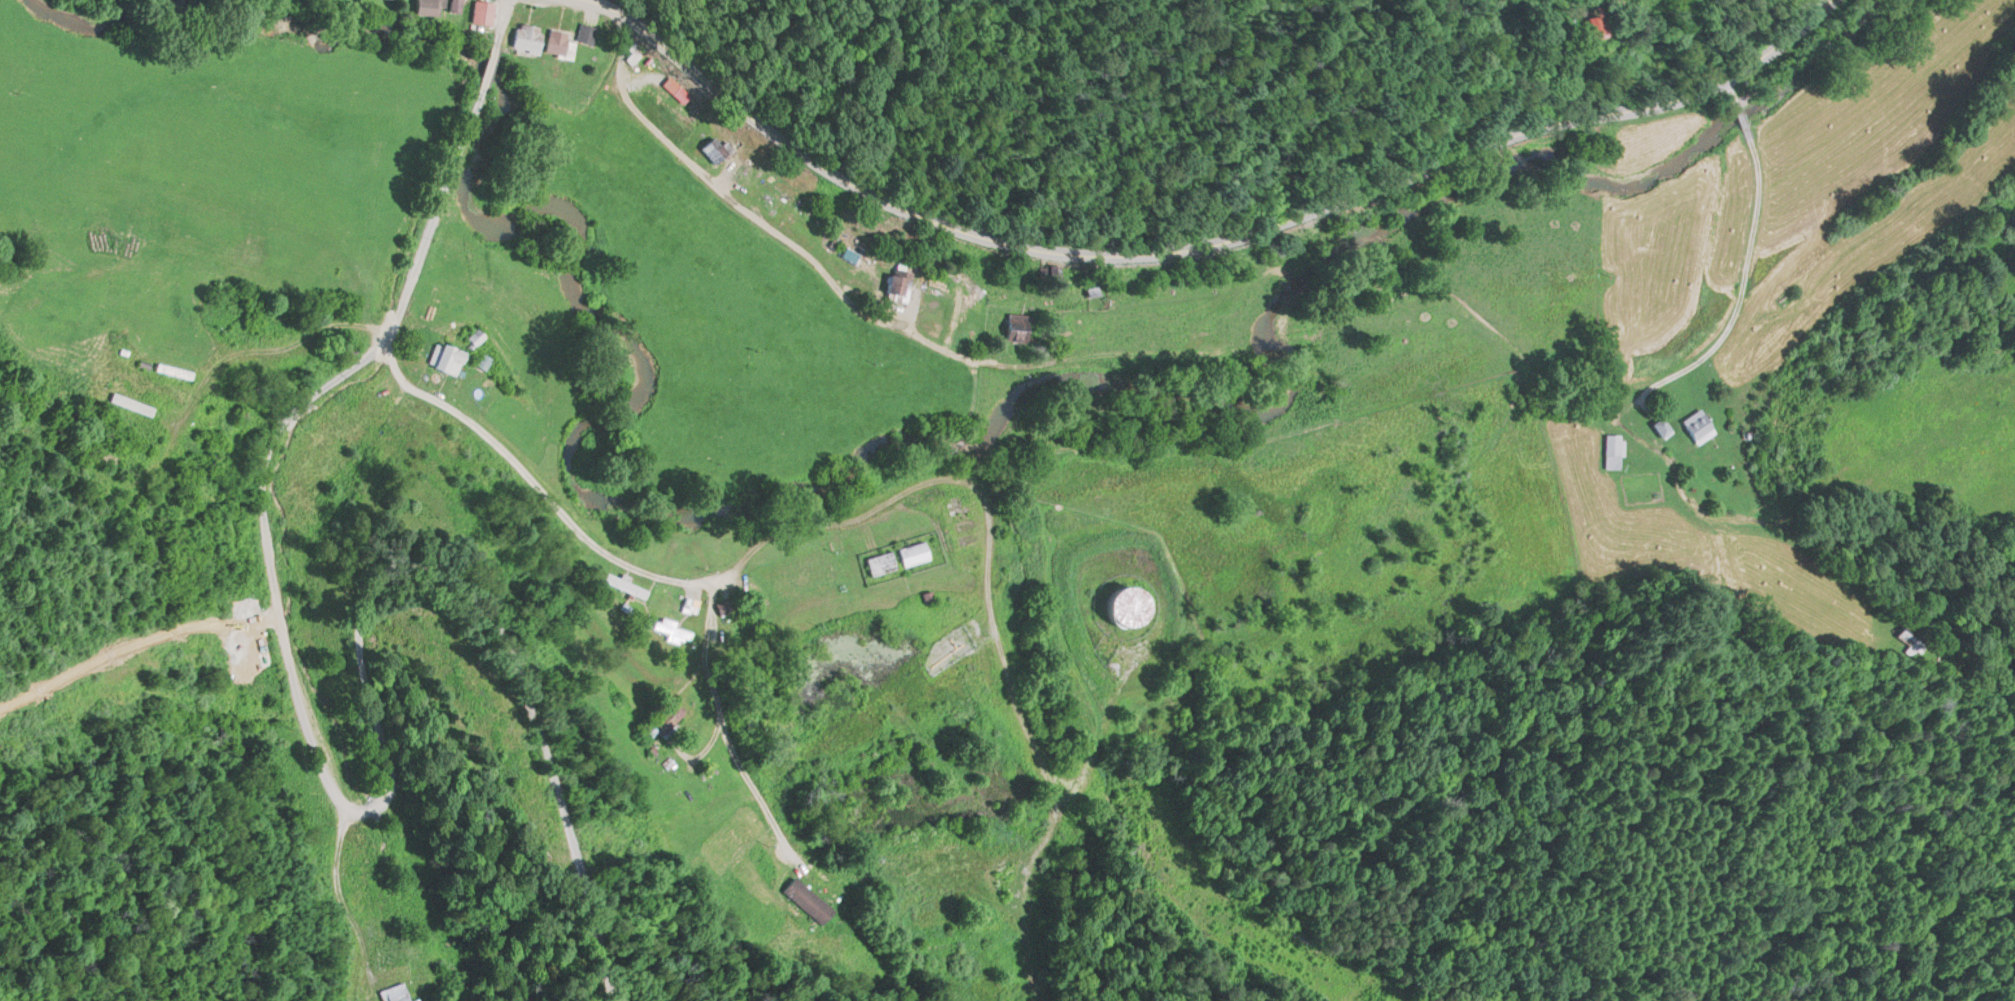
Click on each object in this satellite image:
building: (430, 6)
building: (484, 10)
road: (500, 18)
building: (1600, 22)
building: (587, 31)
building: (528, 35)
building: (558, 39)
road: (489, 61)
road: (574, 62)
building: (717, 148)
road: (1204, 238)
road: (1743, 258)
building: (901, 279)
building: (1019, 325)
road: (267, 347)
building: (448, 356)
building: (174, 369)
building: (130, 400)
building: (1699, 423)
building: (1663, 425)
building: (1613, 449)
road: (526, 470)
building: (914, 552)
building: (881, 561)
building: (626, 583)
building: (691, 603)
building: (1131, 604)
building: (671, 627)
building: (1903, 637)
road: (355, 806)
road: (338, 892)
building: (809, 898)
building: (397, 993)

